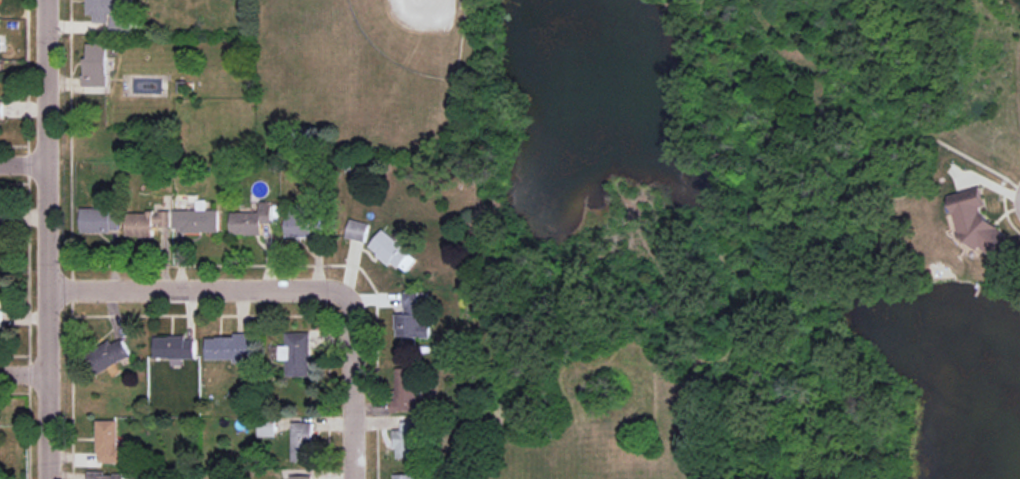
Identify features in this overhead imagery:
building: (111, 13)
building: (96, 64)
building: (1, 110)
road: (24, 162)
building: (100, 220)
building: (196, 220)
building: (251, 220)
building: (976, 221)
building: (146, 222)
building: (303, 222)
building: (2, 224)
building: (358, 230)
road: (47, 239)
building: (393, 251)
road: (197, 285)
building: (0, 314)
building: (412, 316)
building: (174, 347)
building: (229, 348)
building: (109, 354)
building: (296, 354)
road: (22, 370)
road: (353, 385)
building: (406, 388)
building: (406, 440)
building: (107, 441)
building: (302, 441)
building: (105, 475)

